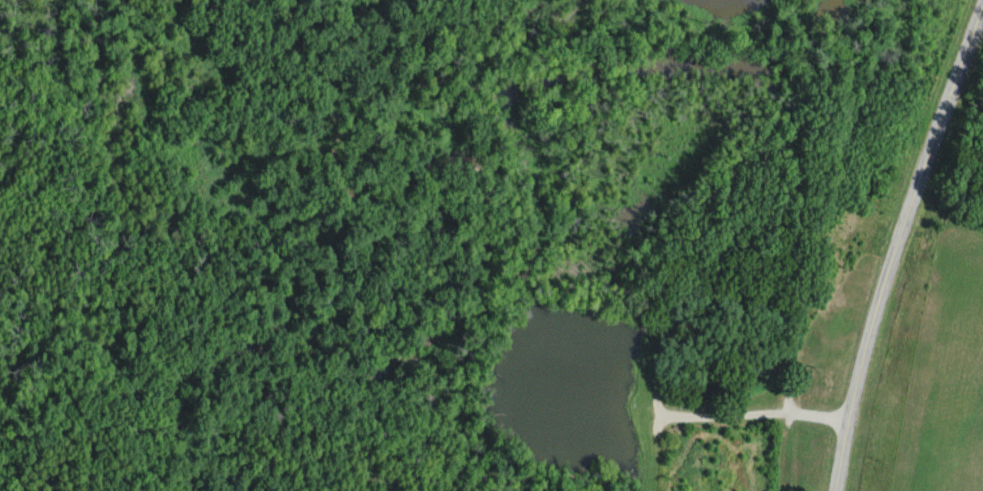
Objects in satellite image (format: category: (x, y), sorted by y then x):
park: (401, 244)
road: (898, 246)
road: (786, 408)
road: (753, 414)
road: (657, 420)

